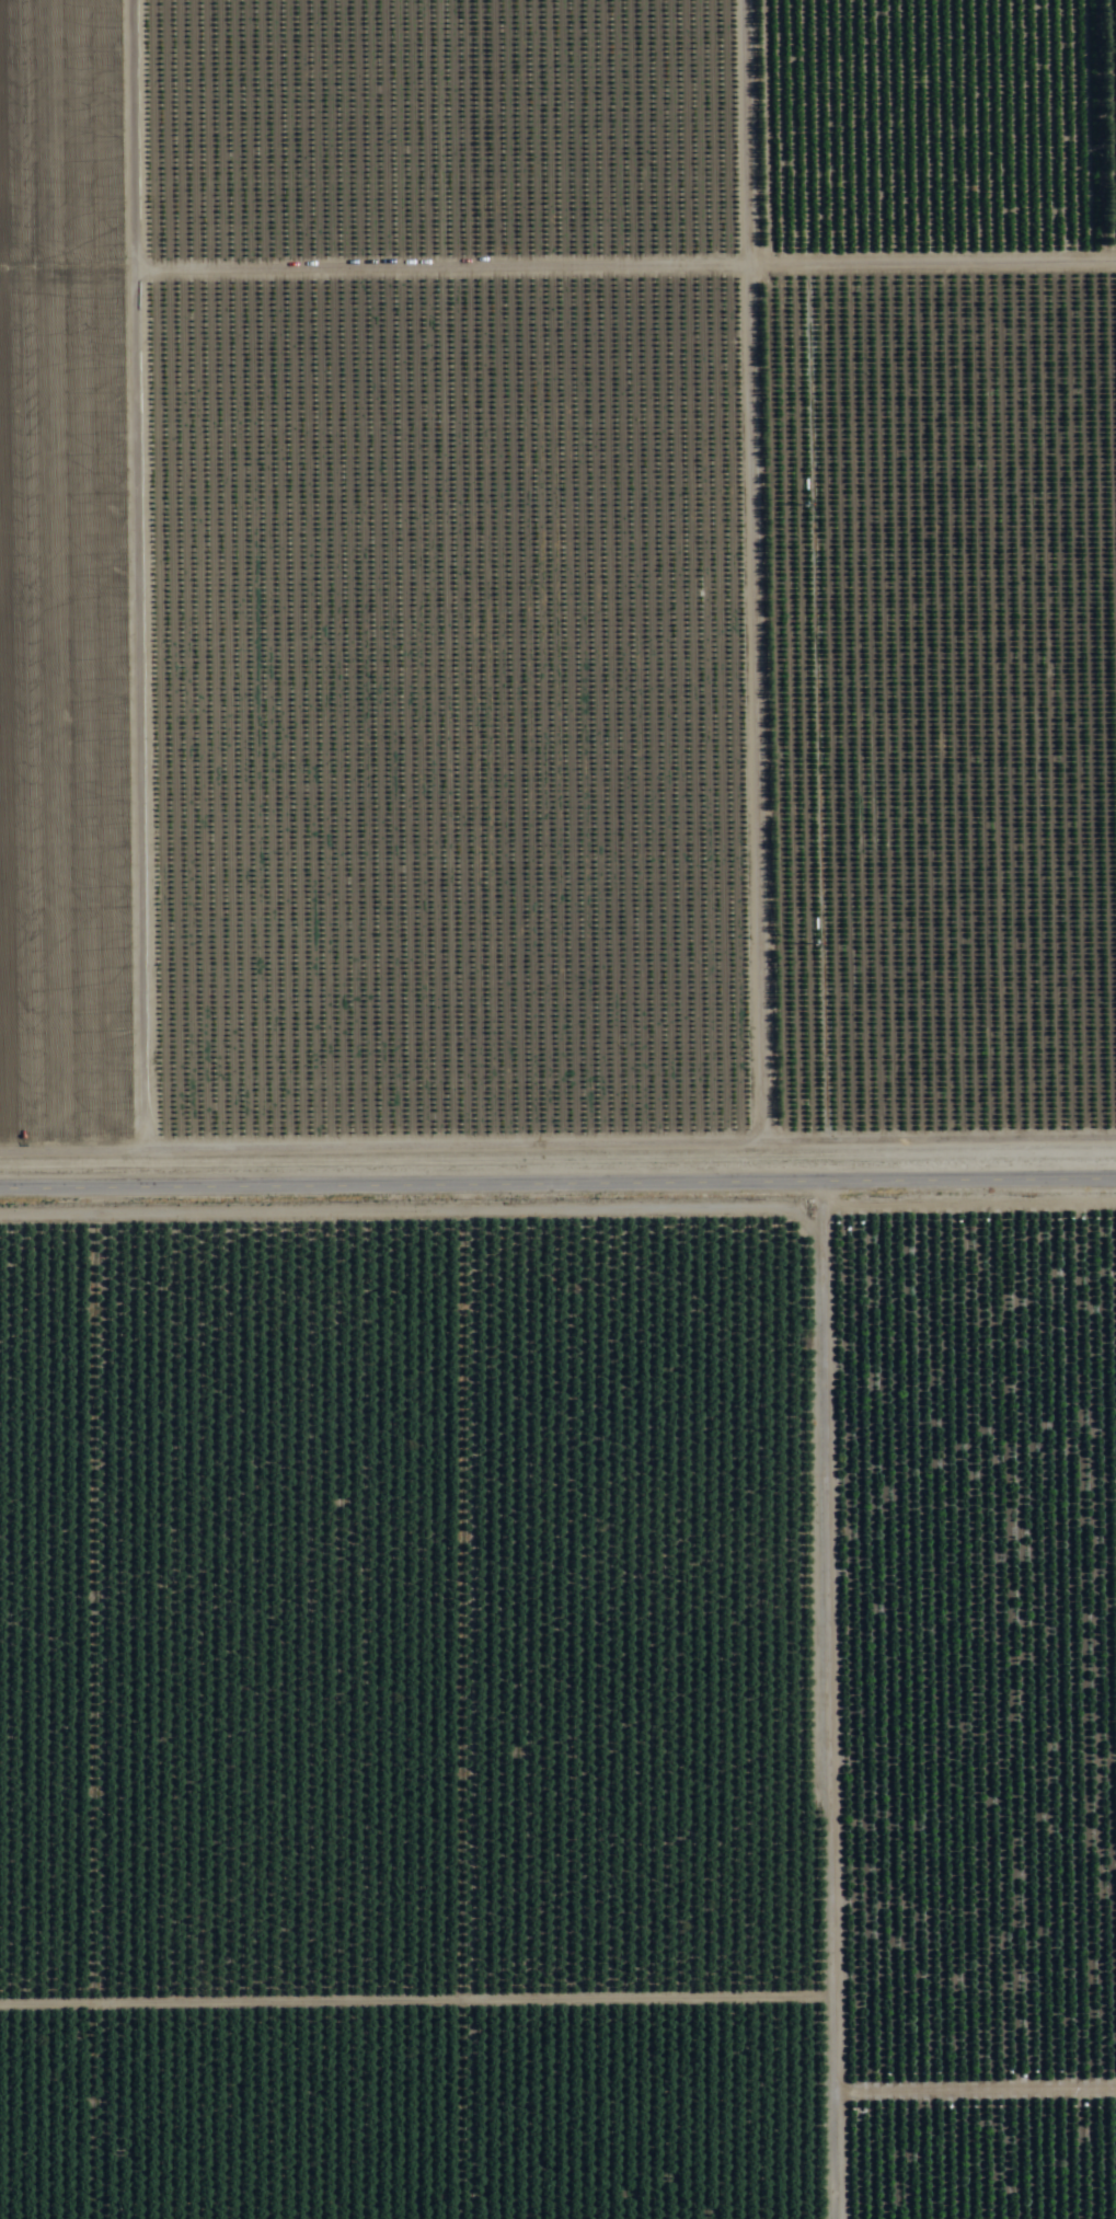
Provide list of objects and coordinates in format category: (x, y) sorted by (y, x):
road: (726, 591)
crop: (557, 1109)
road: (557, 1185)

